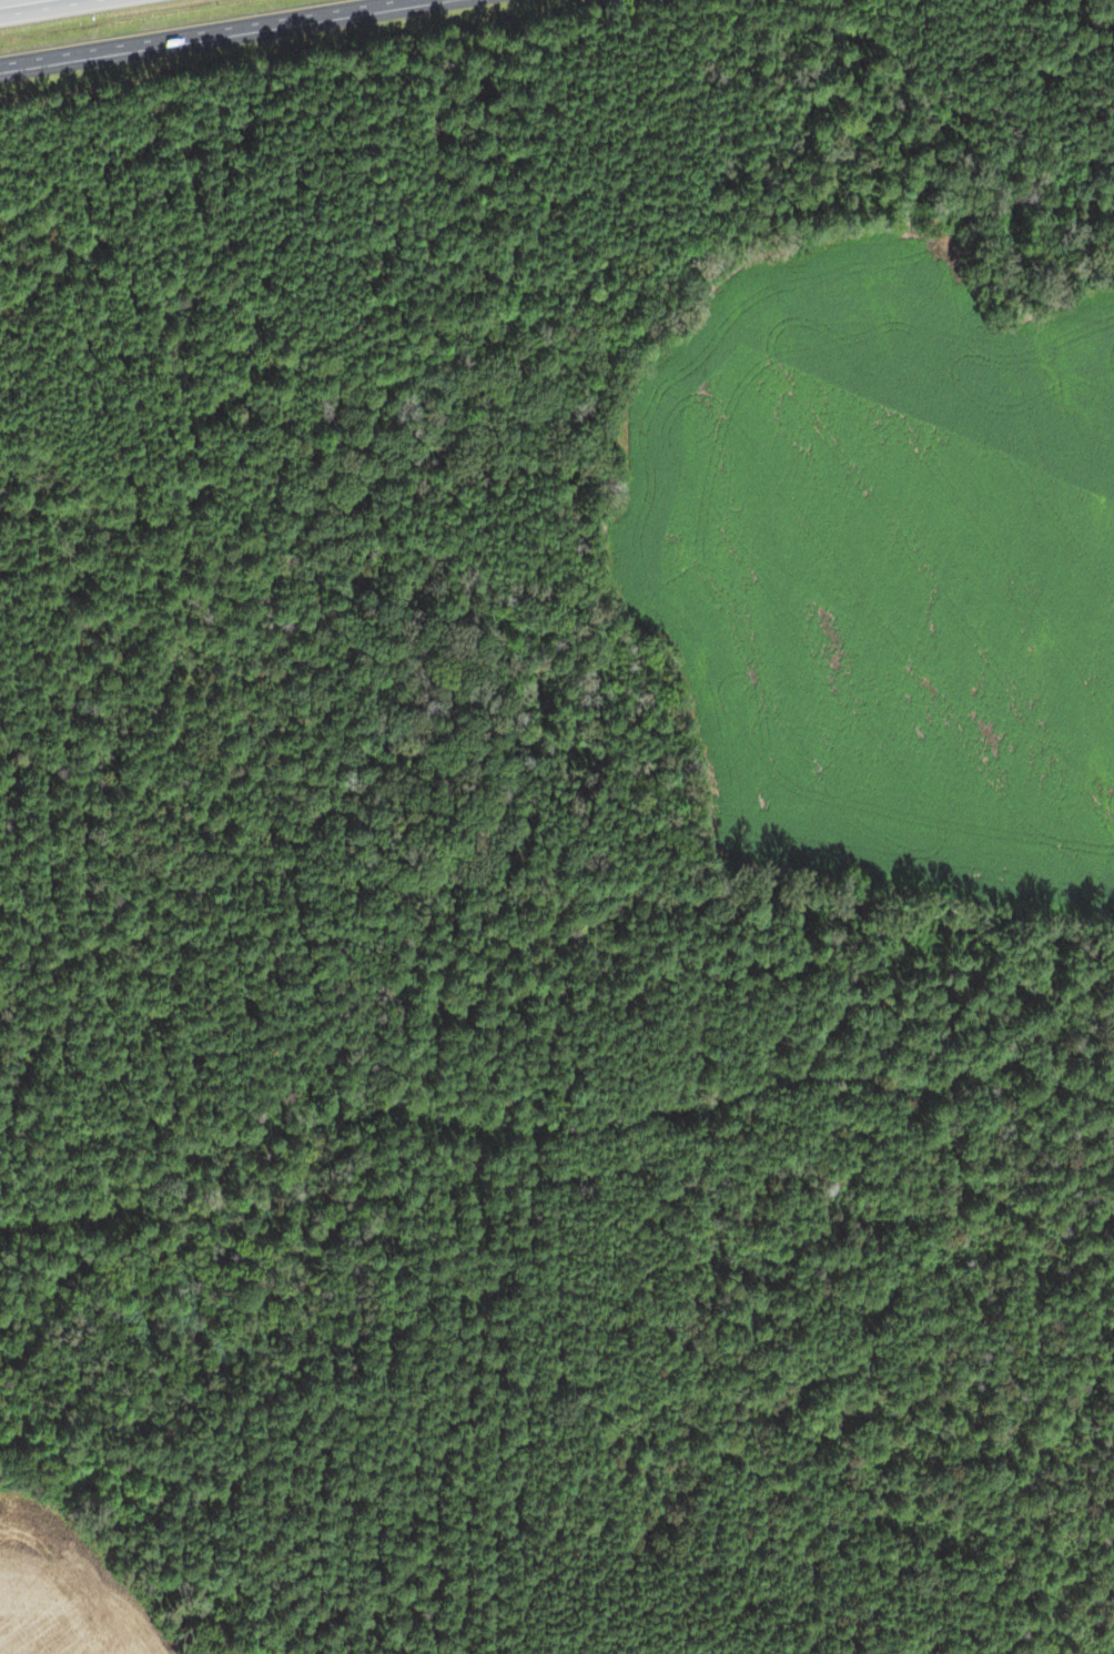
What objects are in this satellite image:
road: (27, 3)
road: (220, 35)

